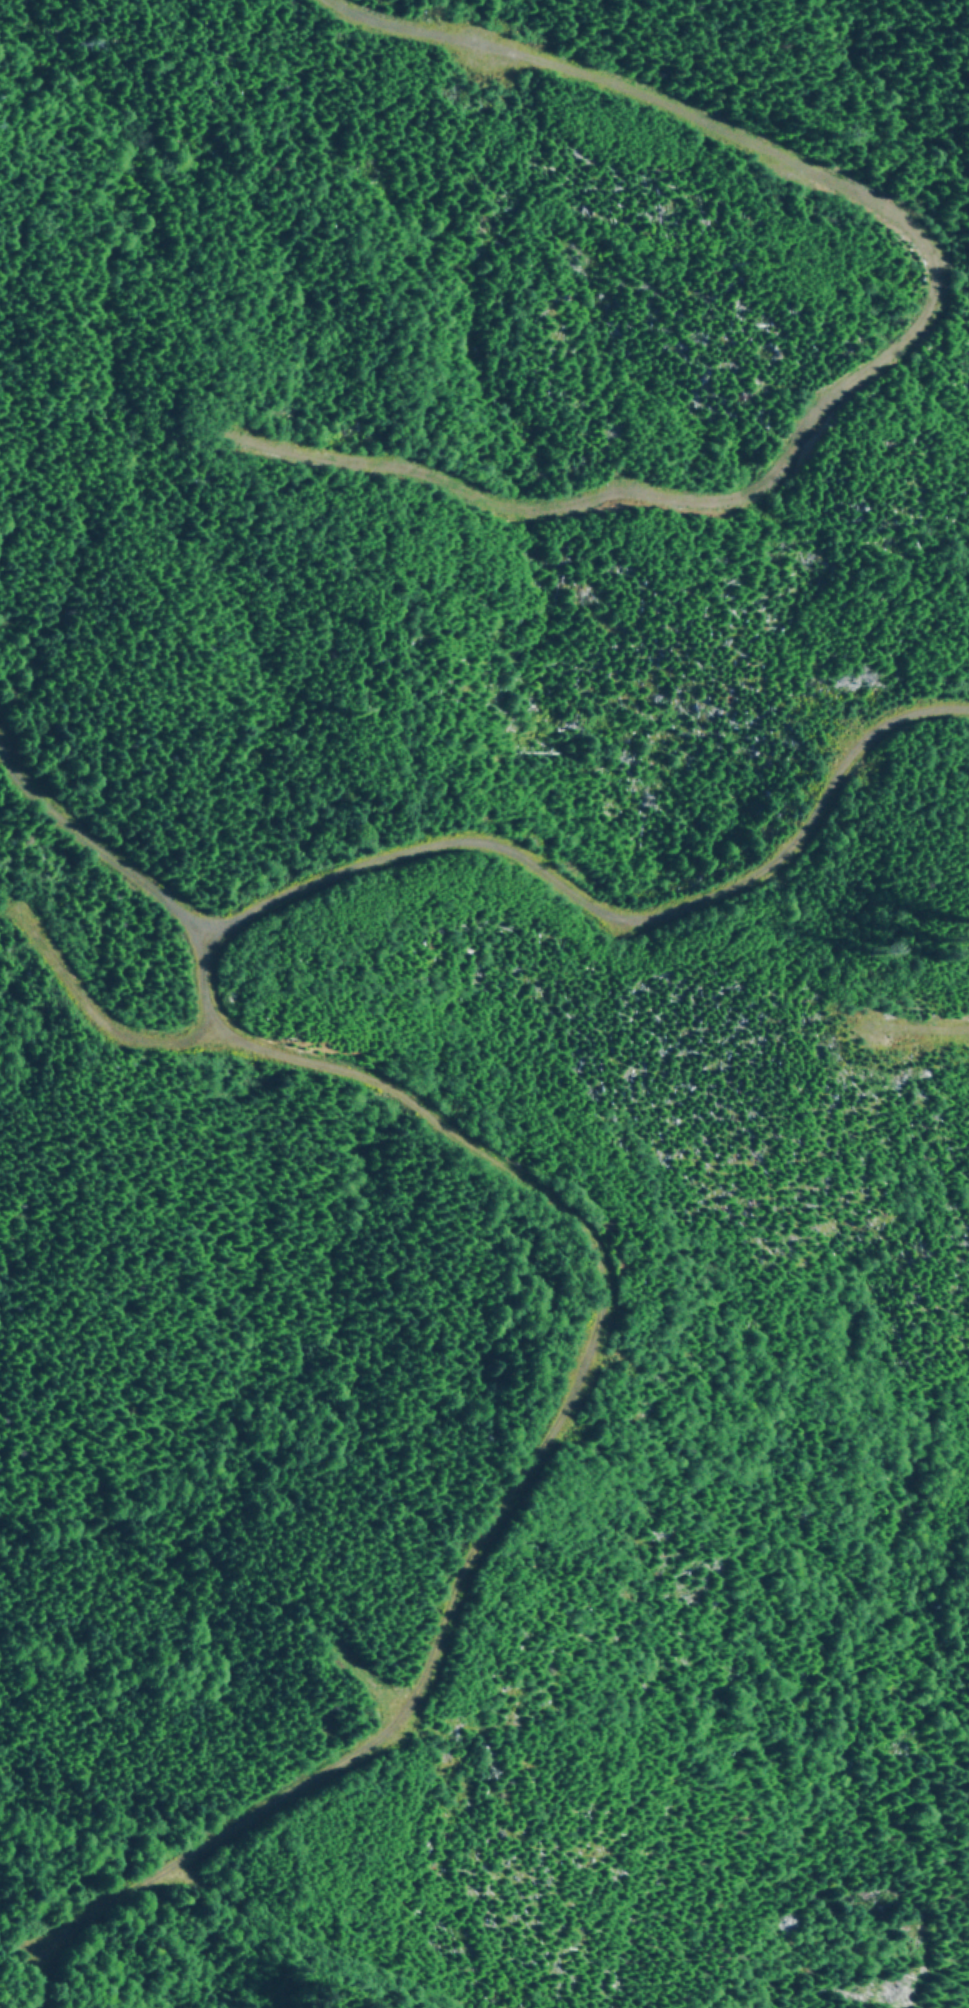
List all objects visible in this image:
road: (407, 1145)

